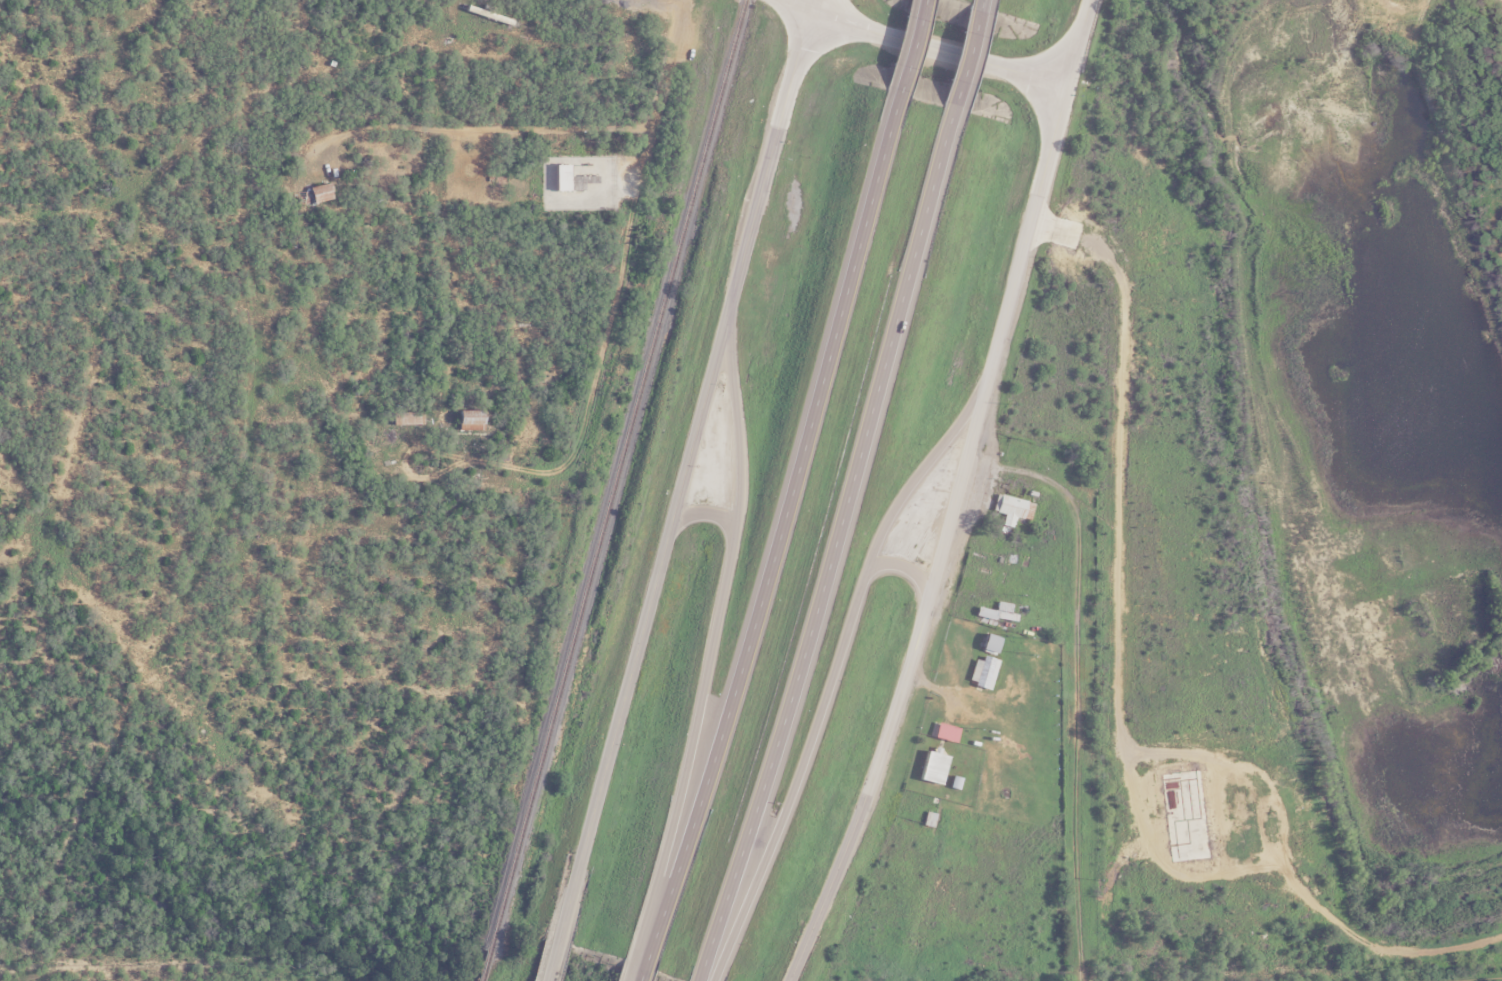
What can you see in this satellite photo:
road: (981, 2)
road: (912, 45)
road: (928, 46)
road: (966, 56)
road: (771, 148)
building: (561, 177)
road: (1035, 190)
building: (319, 192)
road: (628, 227)
building: (406, 417)
building: (468, 418)
road: (920, 471)
railway: (610, 490)
building: (1013, 509)
road: (704, 515)
road: (781, 529)
road: (833, 547)
road: (902, 566)
building: (996, 612)
road: (643, 619)
road: (714, 633)
building: (988, 642)
building: (980, 670)
road: (1075, 683)
road: (899, 686)
building: (947, 732)
building: (931, 767)
road: (796, 776)
building: (1121, 821)
building: (1195, 842)
road: (552, 961)
road: (629, 971)
road: (641, 972)

